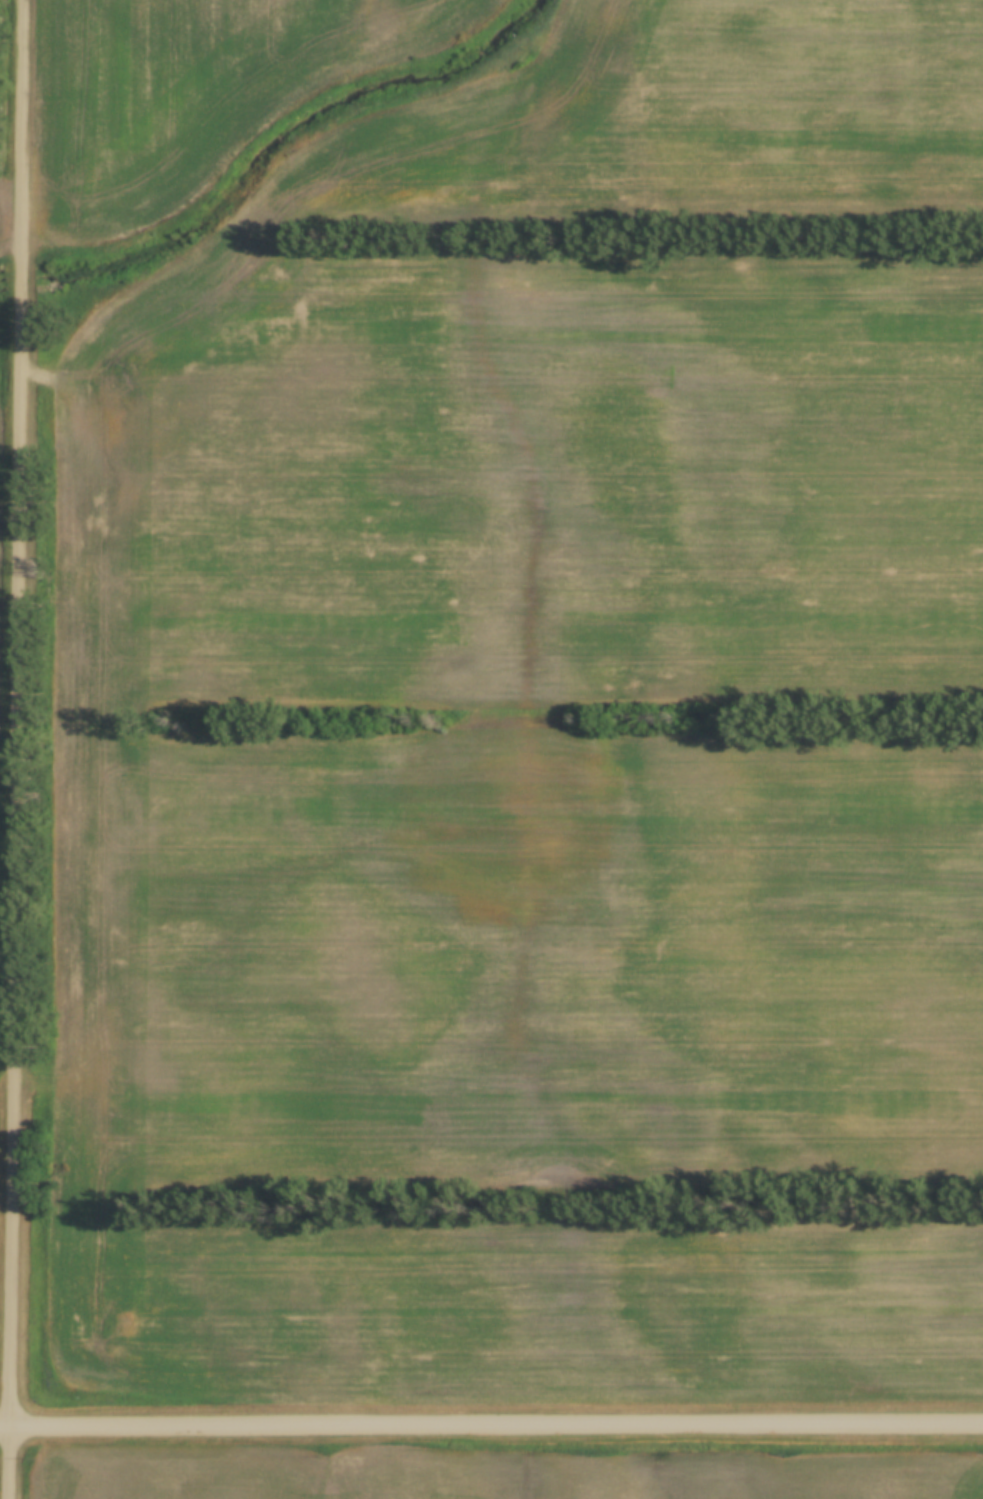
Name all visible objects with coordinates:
road: (18, 714)
road: (491, 1428)
road: (11, 1464)

